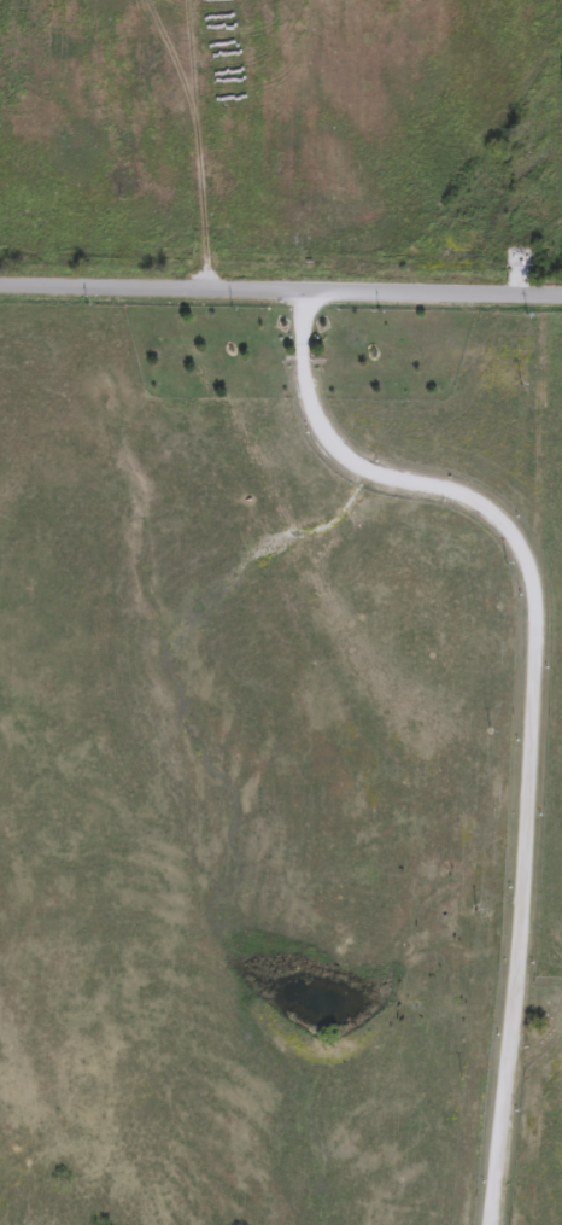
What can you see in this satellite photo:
road: (280, 297)
road: (525, 694)

